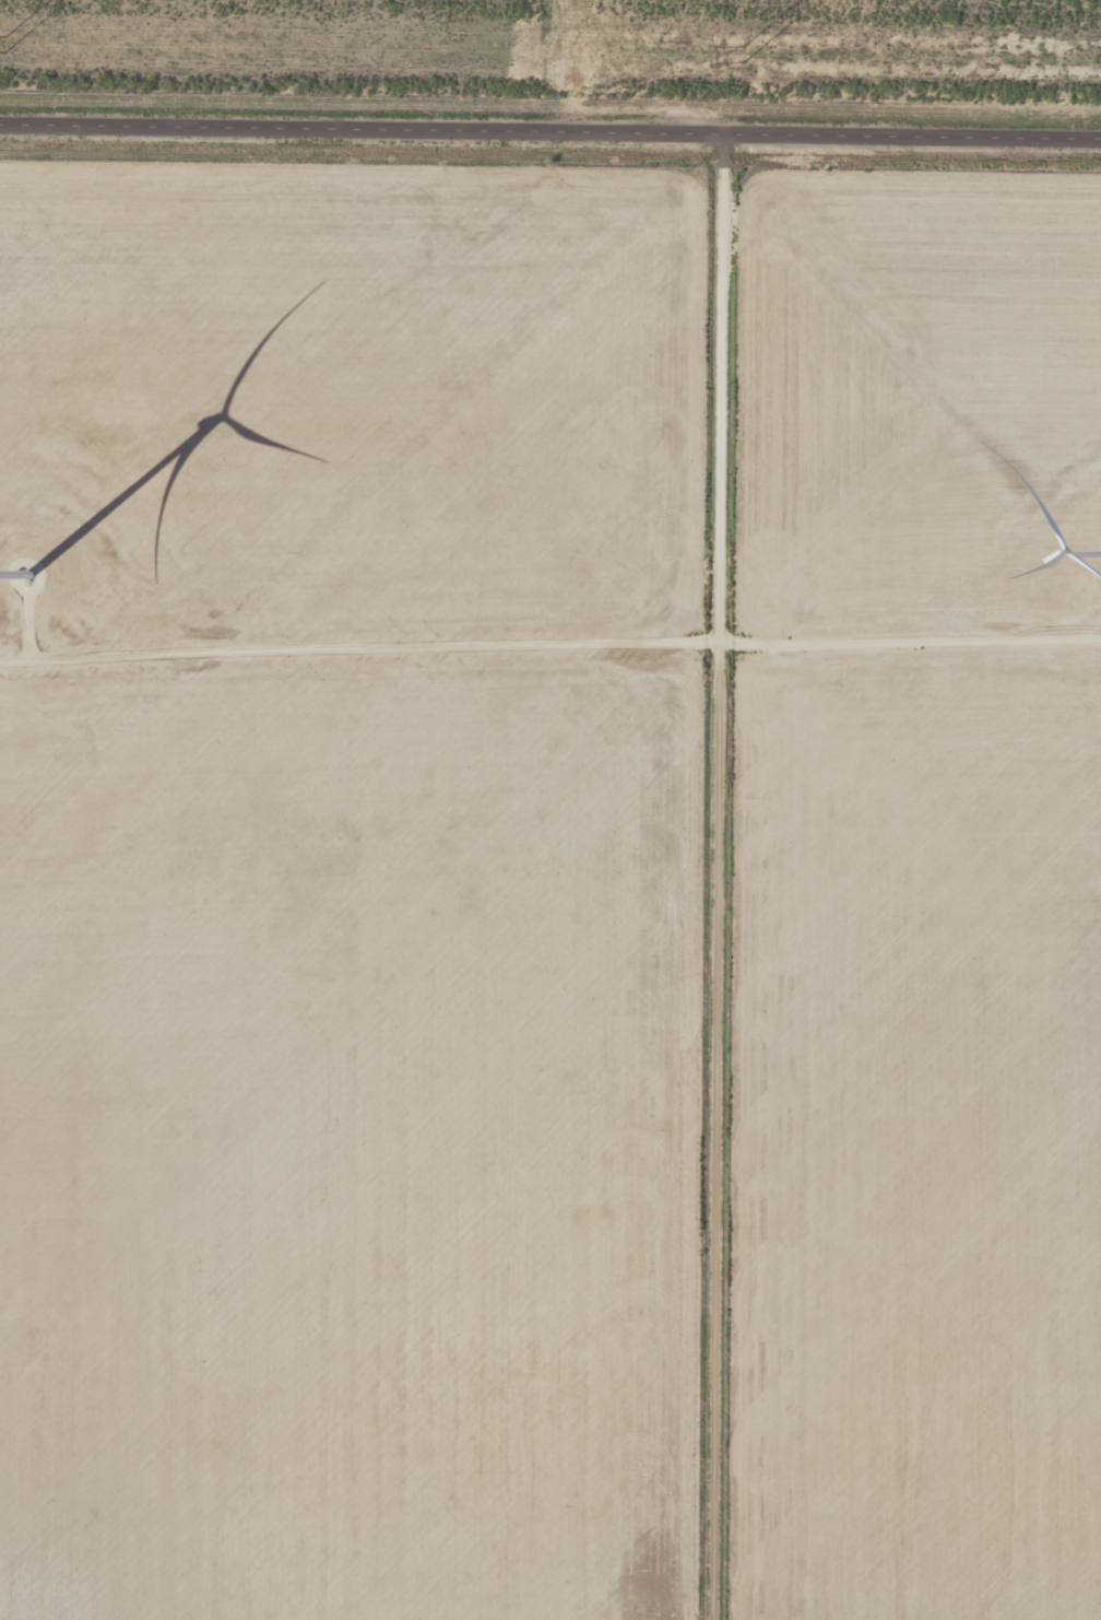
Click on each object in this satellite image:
power tower: (0, 45)
power tower: (735, 56)
road: (549, 134)
wind turbine: (29, 566)
road: (720, 878)

